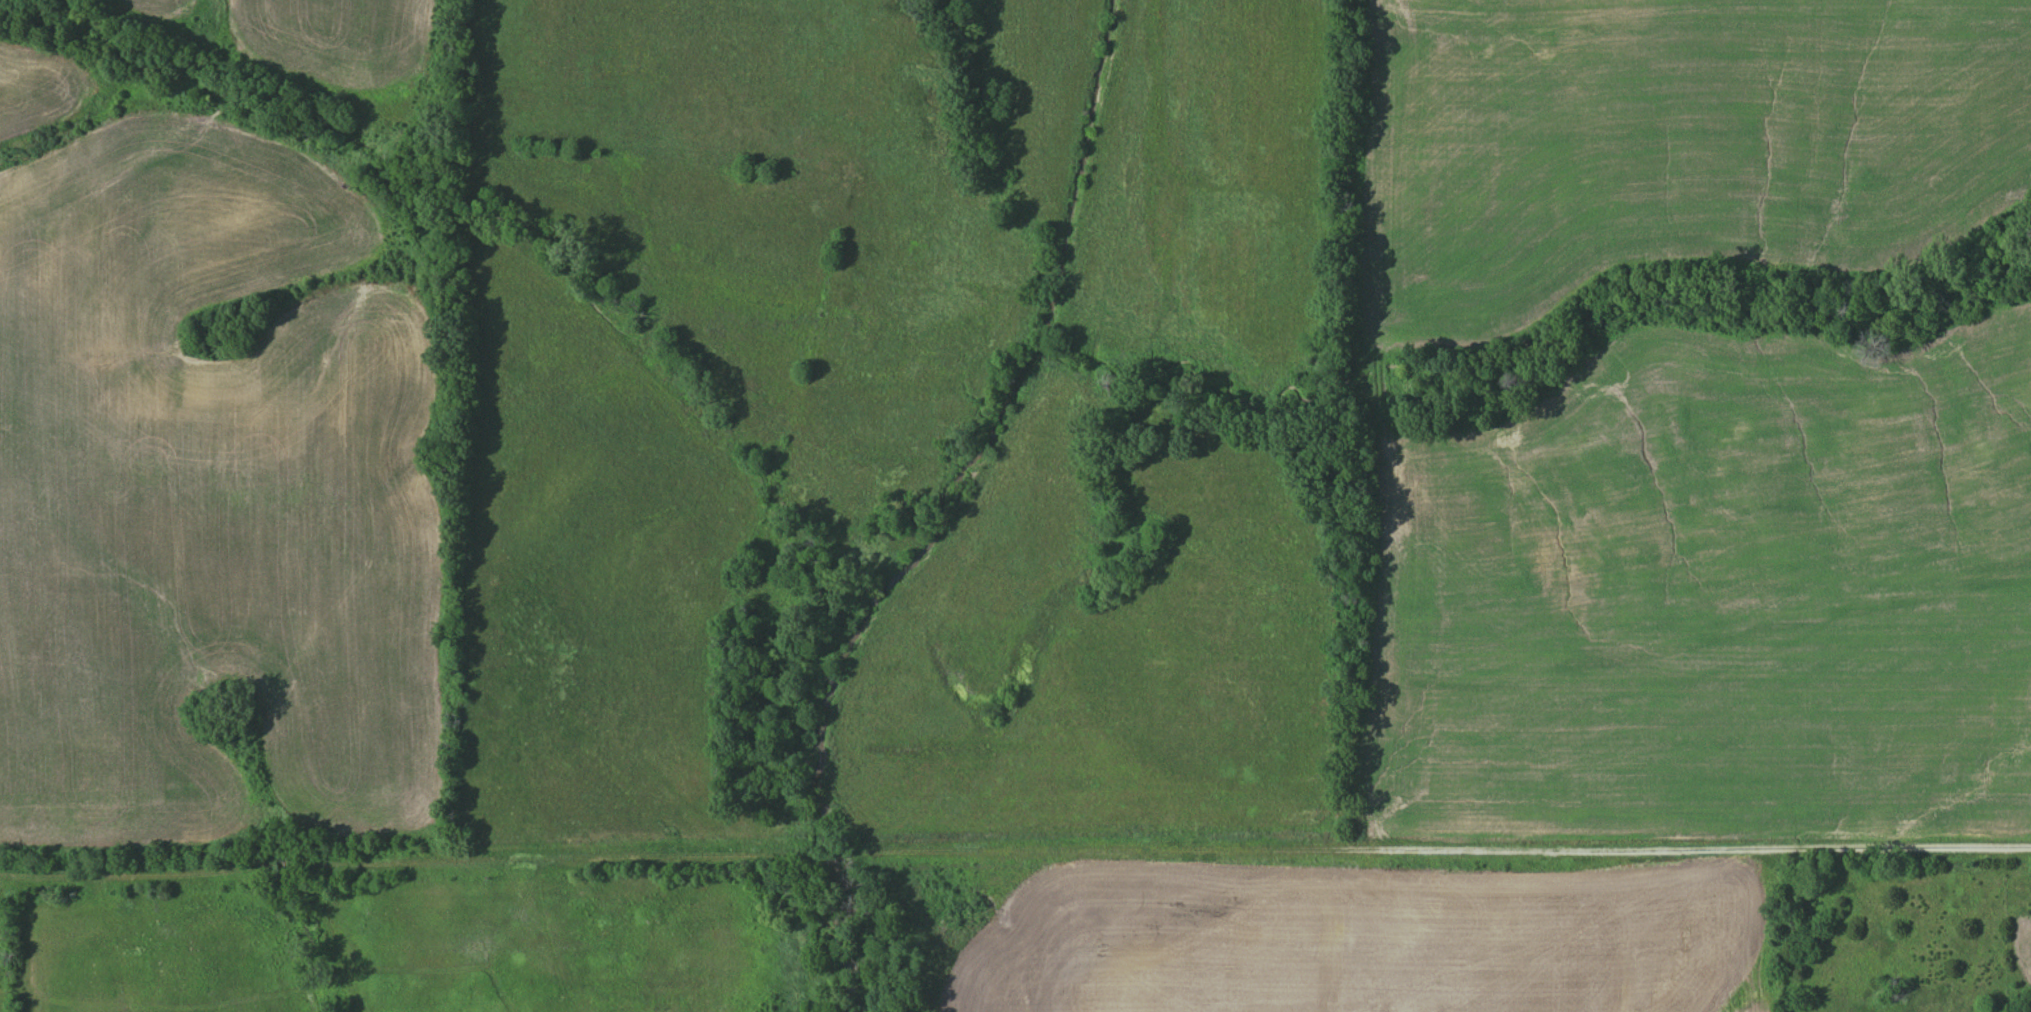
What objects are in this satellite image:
road: (1015, 853)

